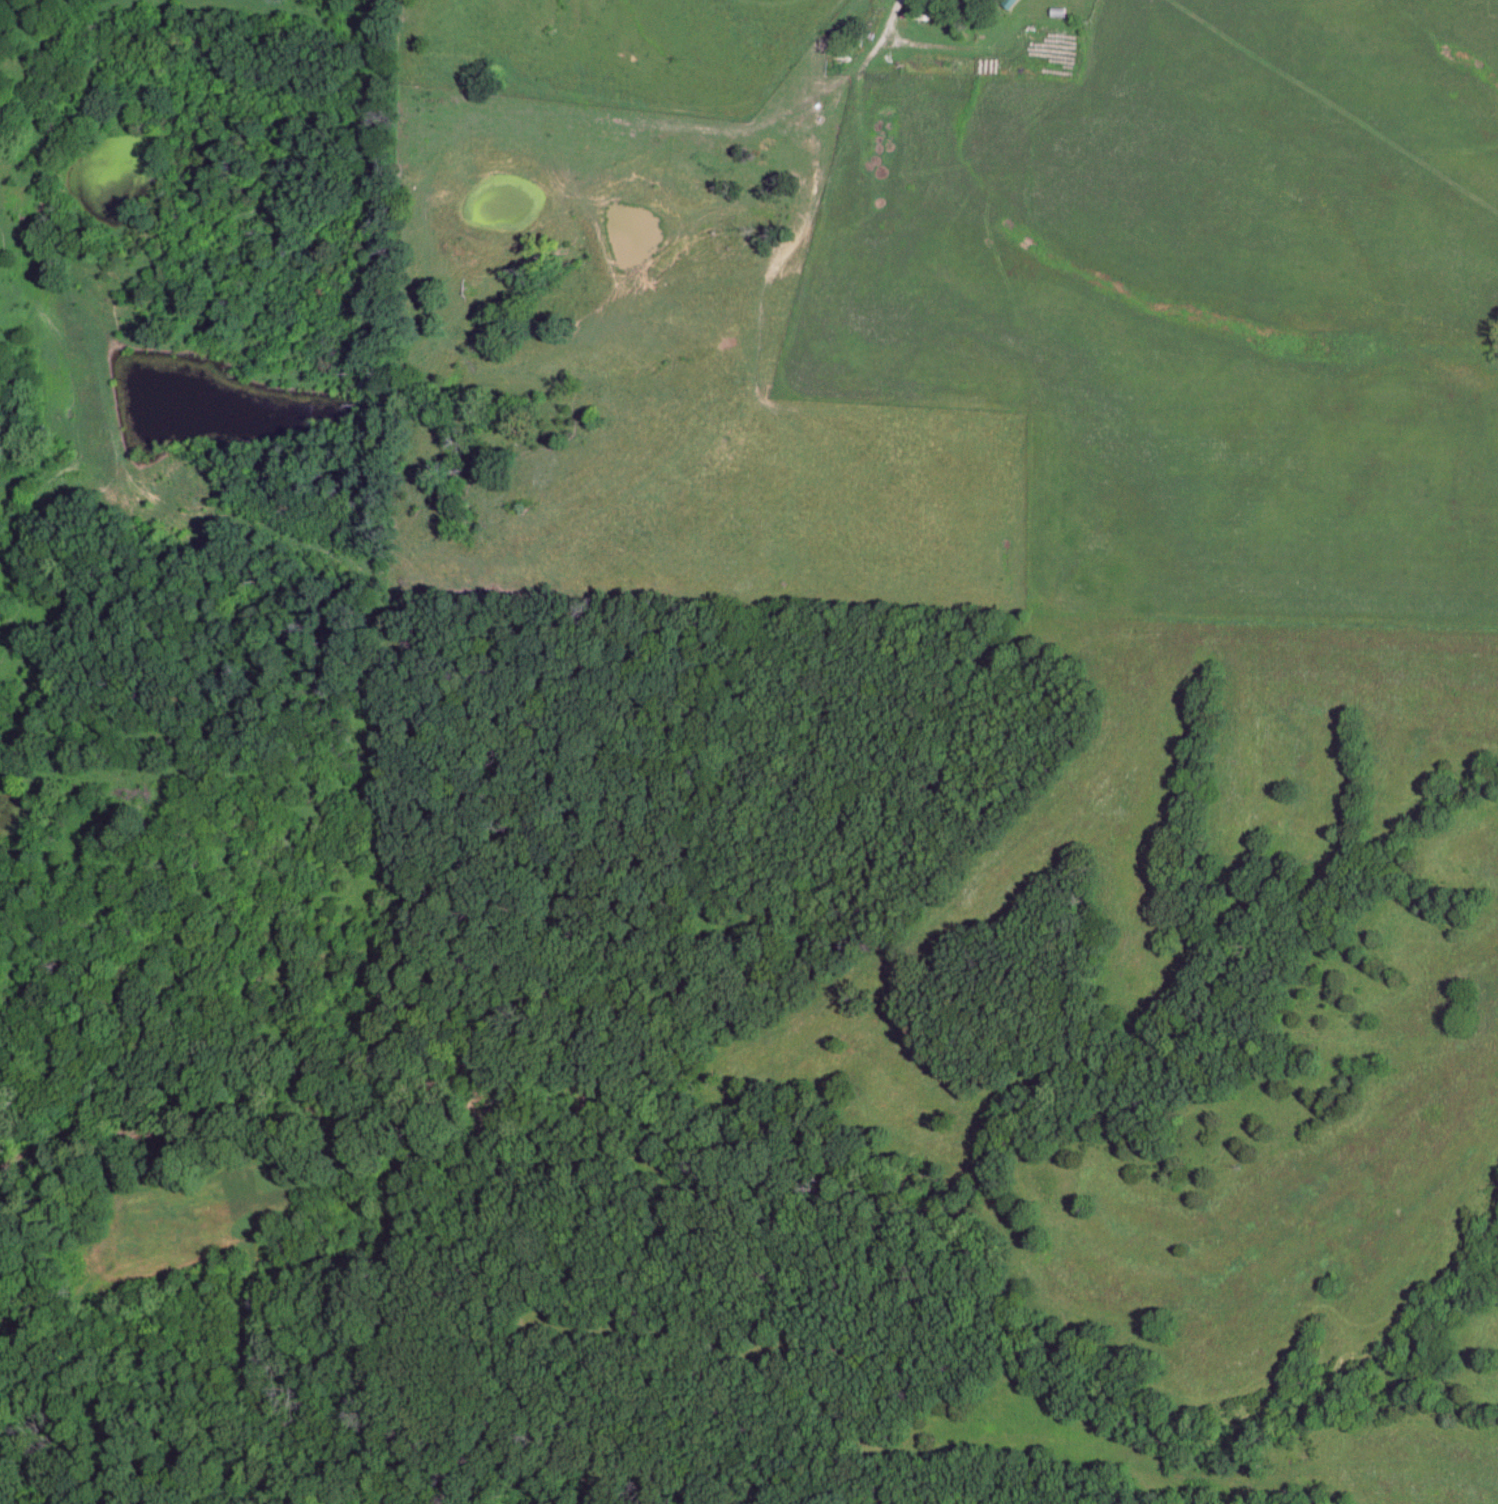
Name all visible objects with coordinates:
building: (839, 65)
road: (866, 67)

